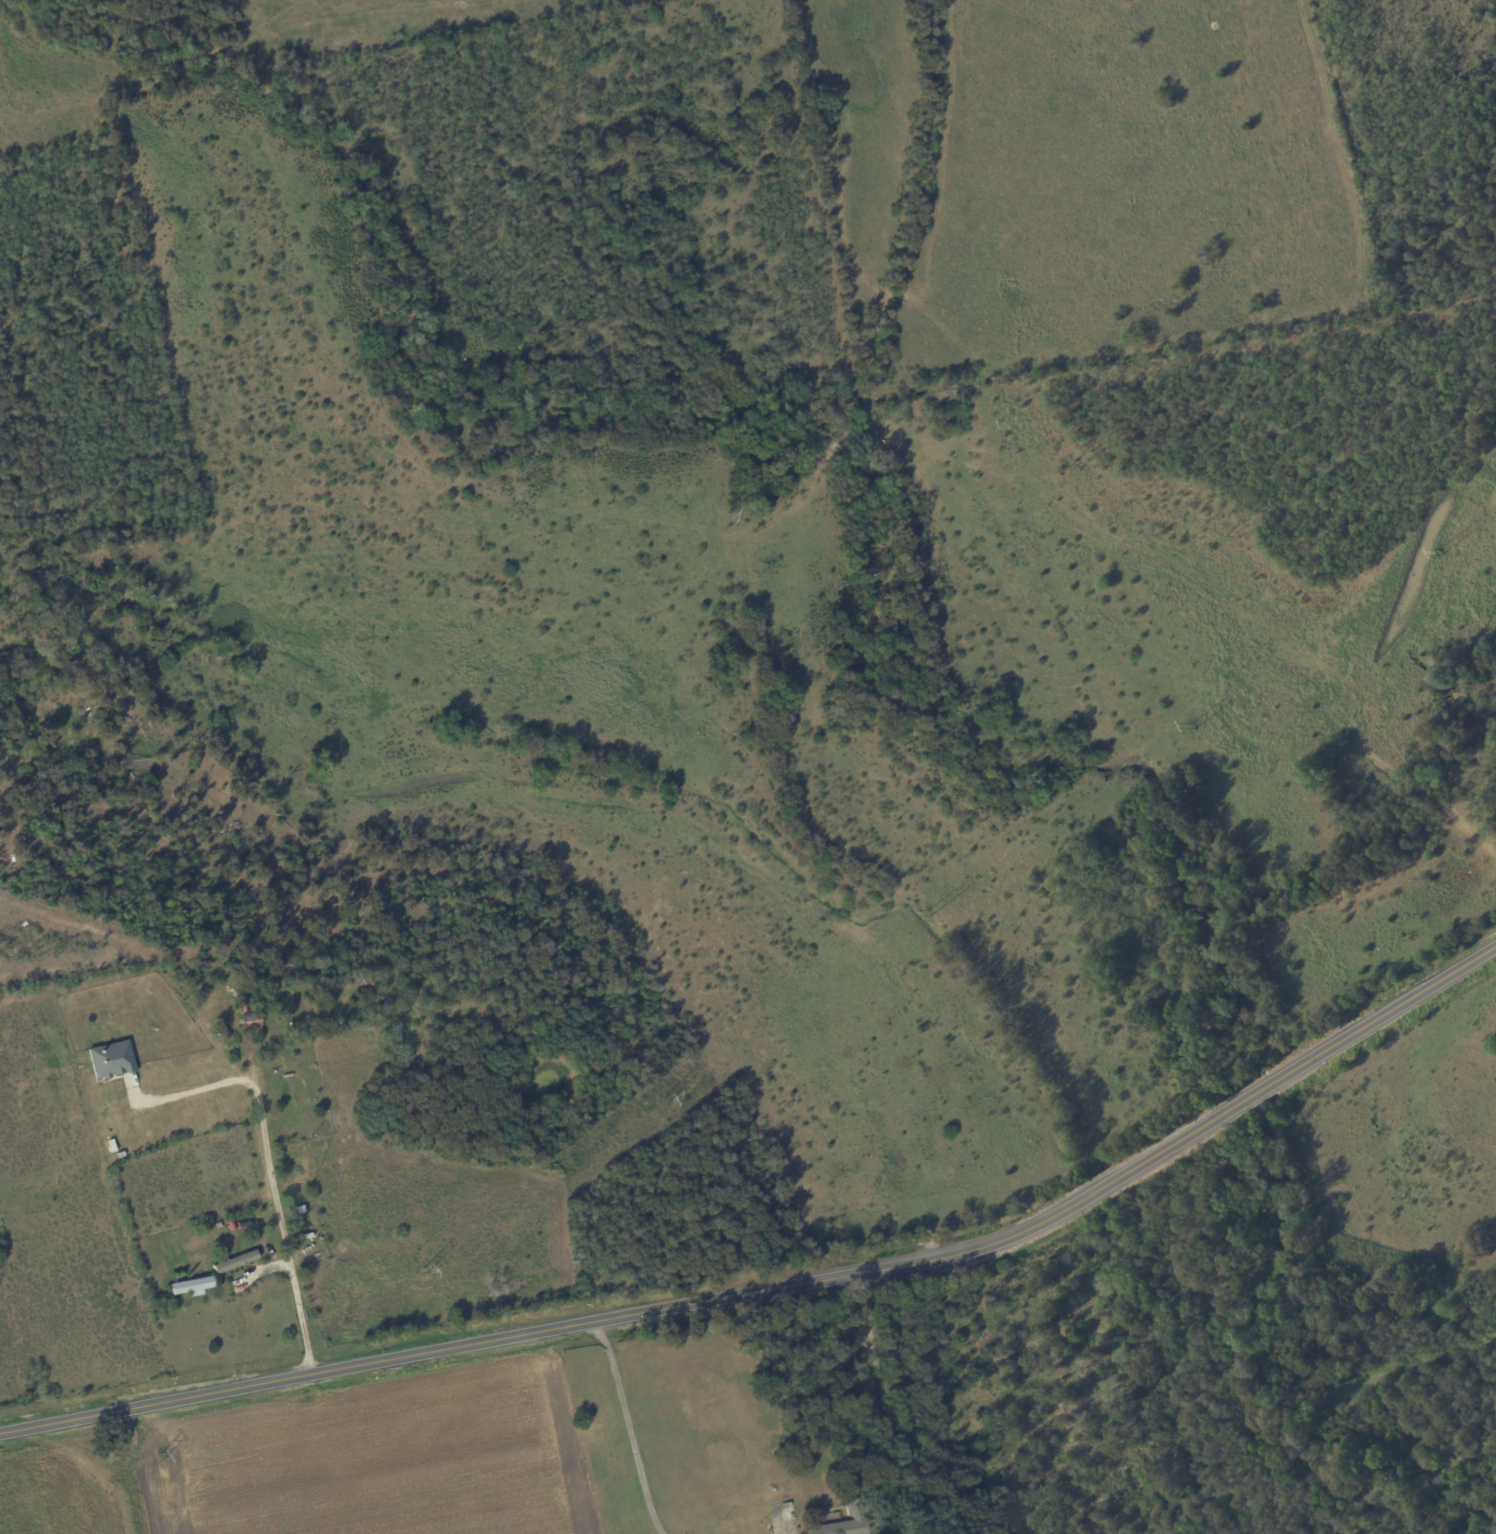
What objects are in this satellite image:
power tower: (1440, 552)
power tower: (1195, 727)
power tower: (930, 915)
building: (245, 1022)
building: (108, 1060)
power tower: (665, 1101)
road: (279, 1217)
building: (232, 1262)
power tower: (425, 1270)
building: (187, 1286)
road: (784, 1288)
road: (881, 1404)
road: (627, 1427)
power tower: (160, 1457)
building: (841, 1525)

